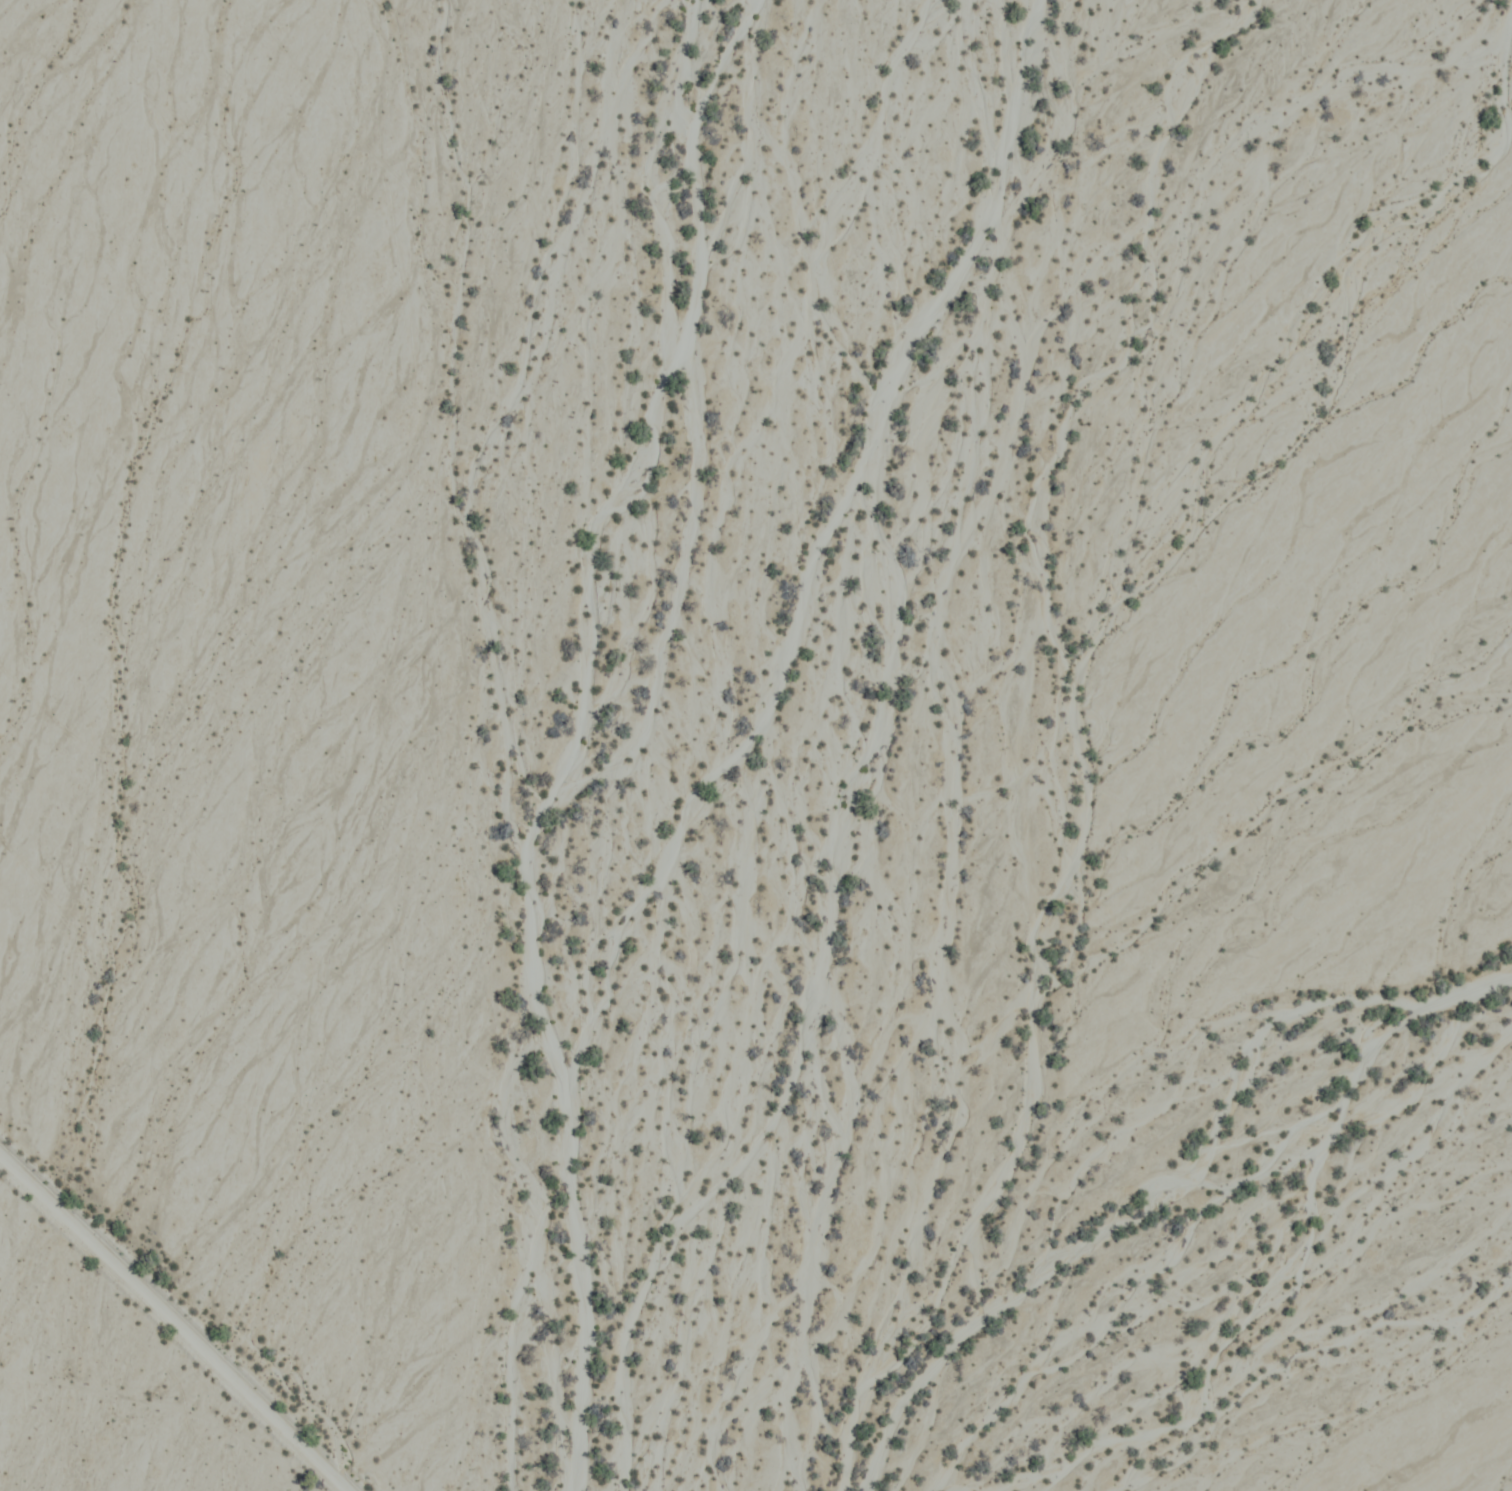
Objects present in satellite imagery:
road: (157, 1332)

